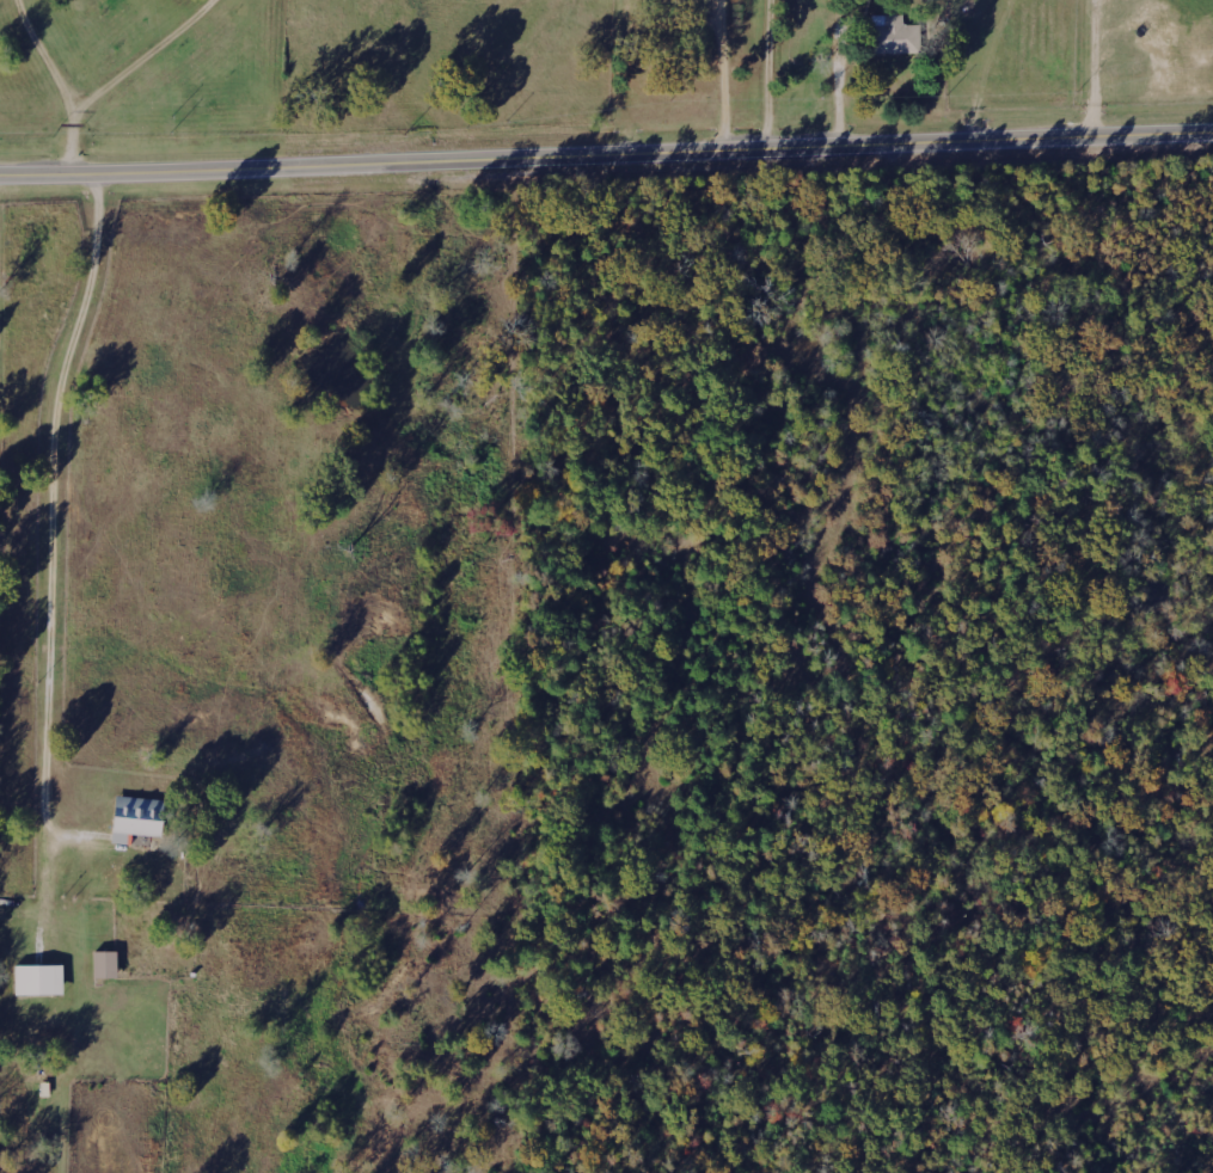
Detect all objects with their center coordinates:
building: (889, 33)
road: (606, 154)
building: (135, 817)
building: (37, 979)

